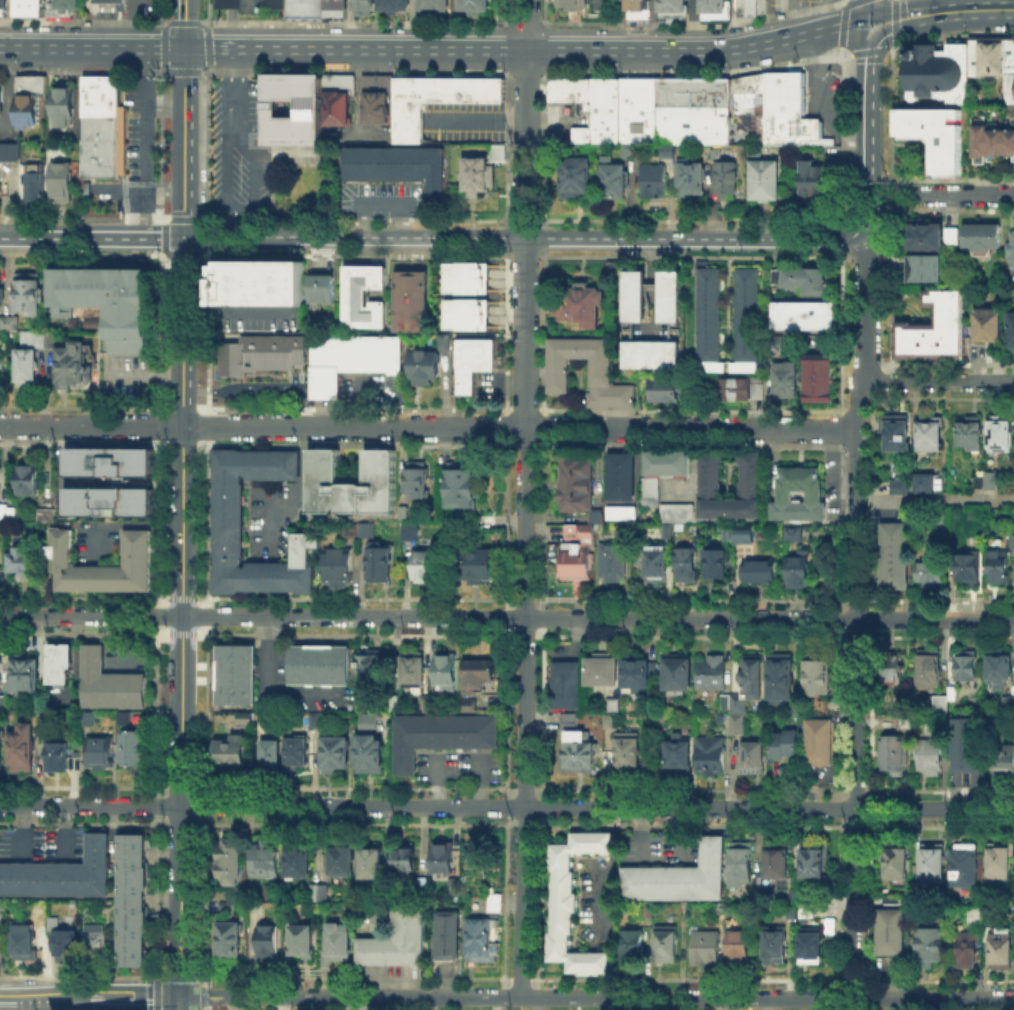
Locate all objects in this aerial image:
road: (101, 0)
road: (110, 0)
road: (595, 1)
building: (570, 3)
parking lot: (787, 3)
building: (116, 4)
parking lot: (140, 4)
building: (248, 4)
building: (431, 4)
parking lot: (601, 4)
road: (984, 4)
building: (391, 5)
building: (473, 5)
building: (2, 6)
building: (59, 6)
building: (361, 6)
building: (26, 7)
building: (749, 7)
building: (303, 8)
building: (333, 8)
building: (713, 8)
road: (973, 8)
road: (93, 9)
building: (636, 9)
building: (671, 9)
road: (862, 10)
road: (828, 13)
road: (102, 15)
road: (898, 15)
road: (110, 17)
road: (787, 18)
traffic signals: (862, 20)
road: (894, 21)
road: (135, 24)
road: (184, 24)
road: (693, 24)
road: (347, 25)
road: (411, 25)
road: (451, 25)
road: (652, 25)
road: (83, 36)
road: (883, 36)
road: (102, 39)
road: (91, 49)
traffic signals: (184, 49)
road: (695, 49)
road: (867, 49)
road: (355, 50)
road: (862, 54)
building: (982, 57)
building: (1007, 58)
traffic signals: (869, 61)
building: (932, 74)
building: (376, 85)
building: (1008, 89)
building: (565, 91)
building: (98, 97)
road: (817, 99)
parking lot: (820, 100)
building: (438, 101)
building: (0, 102)
building: (27, 105)
building: (60, 108)
building: (306, 109)
building: (376, 109)
building: (746, 110)
building: (783, 111)
building: (603, 112)
building: (639, 112)
building: (693, 112)
road: (480, 121)
parking lot: (465, 124)
building: (934, 136)
road: (866, 139)
road: (184, 142)
building: (990, 144)
building: (98, 148)
parking lot: (239, 149)
building: (11, 152)
building: (496, 152)
parking lot: (133, 156)
building: (394, 169)
building: (575, 173)
building: (476, 174)
building: (611, 180)
building: (687, 181)
building: (723, 181)
building: (760, 181)
building: (64, 184)
building: (651, 184)
building: (815, 184)
building: (38, 186)
road: (890, 190)
road: (964, 195)
road: (384, 203)
road: (866, 214)
road: (19, 234)
road: (111, 234)
building: (929, 235)
traffic signals: (184, 236)
road: (524, 238)
building: (983, 240)
building: (1012, 251)
building: (926, 270)
building: (467, 277)
building: (805, 281)
building: (259, 284)
building: (323, 290)
building: (1, 294)
building: (30, 297)
building: (365, 297)
building: (637, 298)
building: (672, 298)
building: (415, 301)
building: (466, 301)
building: (106, 302)
building: (579, 303)
road: (863, 310)
building: (706, 316)
building: (745, 316)
building: (807, 318)
building: (10, 325)
building: (991, 326)
building: (1011, 329)
building: (937, 330)
building: (31, 338)
building: (45, 338)
building: (443, 341)
building: (654, 354)
building: (256, 358)
building: (355, 361)
building: (476, 361)
building: (427, 365)
building: (28, 367)
building: (74, 368)
building: (1, 373)
building: (597, 374)
road: (144, 377)
building: (817, 377)
building: (787, 380)
road: (937, 381)
building: (668, 391)
building: (736, 391)
building: (762, 392)
road: (428, 426)
building: (897, 432)
building: (970, 435)
building: (1002, 436)
building: (932, 437)
building: (107, 461)
building: (667, 462)
road: (777, 462)
building: (619, 475)
road: (833, 476)
building: (712, 477)
building: (418, 479)
building: (31, 481)
building: (994, 481)
building: (575, 482)
building: (923, 482)
building: (354, 483)
building: (463, 488)
building: (903, 489)
building: (652, 490)
building: (801, 497)
road: (525, 498)
road: (935, 500)
building: (107, 502)
building: (230, 506)
building: (621, 511)
building: (406, 512)
building: (678, 513)
building: (595, 515)
building: (50, 516)
building: (366, 529)
building: (578, 532)
building: (742, 532)
building: (410, 533)
building: (667, 533)
building: (795, 535)
building: (1010, 540)
building: (897, 557)
building: (576, 561)
building: (24, 562)
building: (380, 562)
building: (614, 562)
building: (481, 564)
building: (341, 565)
building: (717, 565)
building: (658, 566)
building: (104, 567)
building: (688, 568)
building: (425, 569)
building: (999, 569)
building: (757, 570)
building: (800, 570)
building: (969, 571)
building: (931, 574)
road: (182, 616)
road: (506, 617)
building: (61, 666)
building: (320, 666)
building: (371, 667)
building: (893, 668)
building: (966, 668)
building: (1000, 669)
building: (414, 670)
building: (931, 670)
building: (1, 672)
building: (602, 672)
building: (447, 673)
building: (714, 674)
building: (26, 675)
building: (679, 675)
building: (479, 676)
building: (636, 676)
building: (237, 677)
building: (754, 677)
building: (783, 678)
building: (819, 679)
building: (108, 683)
building: (567, 685)
road: (855, 690)
building: (734, 703)
building: (397, 704)
building: (935, 704)
building: (5, 705)
building: (615, 705)
building: (426, 706)
building: (469, 706)
building: (1009, 706)
building: (821, 707)
building: (797, 709)
building: (86, 717)
building: (247, 717)
building: (316, 722)
building: (737, 724)
building: (442, 736)
building: (819, 742)
building: (129, 745)
building: (785, 745)
building: (967, 746)
building: (577, 747)
building: (371, 748)
building: (1, 749)
building: (97, 749)
building: (23, 750)
building: (223, 751)
building: (892, 752)
building: (629, 754)
building: (272, 755)
building: (337, 755)
building: (711, 755)
building: (298, 756)
building: (678, 756)
building: (930, 758)
building: (58, 759)
building: (753, 760)
building: (1004, 763)
road: (506, 807)
building: (262, 857)
building: (344, 859)
building: (300, 860)
building: (444, 860)
building: (407, 861)
building: (816, 861)
building: (780, 862)
building: (230, 864)
building: (373, 864)
building: (739, 864)
building: (899, 864)
building: (934, 864)
building: (999, 865)
building: (965, 867)
building: (680, 875)
building: (60, 877)
building: (424, 886)
building: (456, 888)
building: (320, 892)
building: (131, 900)
building: (498, 903)
building: (572, 903)
building: (795, 903)
building: (806, 907)
building: (227, 909)
building: (5, 912)
building: (652, 912)
building: (976, 916)
building: (896, 934)
building: (451, 936)
building: (27, 941)
building: (98, 941)
building: (230, 942)
building: (400, 942)
building: (304, 943)
building: (340, 943)
building: (486, 943)
building: (270, 945)
building: (672, 945)
building: (67, 946)
building: (636, 946)
building: (781, 947)
building: (817, 947)
building: (744, 948)
building: (712, 949)
building: (932, 949)
building: (1002, 949)
building: (968, 951)
road: (202, 994)
road: (45, 995)
road: (134, 996)
traffic signals: (177, 996)
road: (595, 998)
road: (185, 1001)
road: (176, 1003)
road: (367, 1003)
road: (547, 1004)
road: (663, 1004)
road: (767, 1004)

